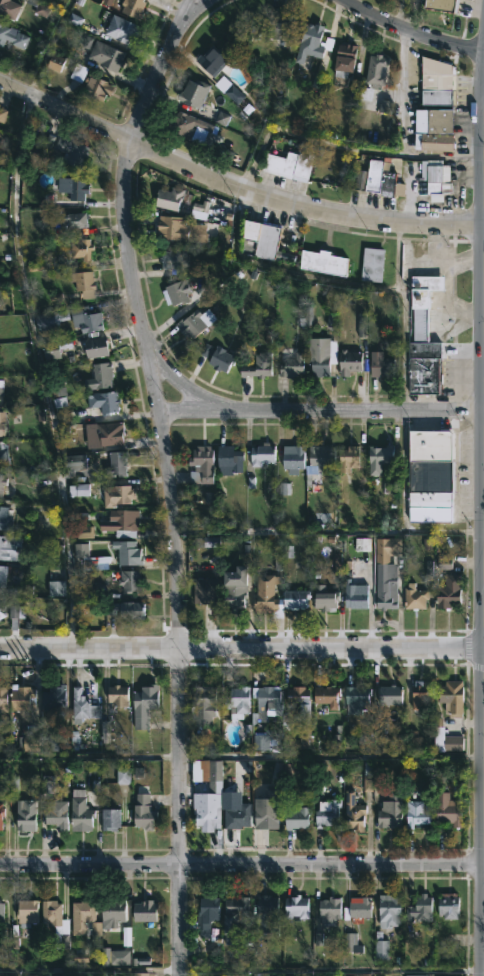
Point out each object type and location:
road: (190, 1)
building: (440, 5)
building: (133, 8)
building: (9, 9)
building: (41, 10)
building: (280, 23)
building: (84, 25)
building: (120, 30)
road: (413, 30)
building: (12, 36)
building: (312, 43)
road: (49, 47)
building: (106, 56)
building: (343, 59)
building: (212, 60)
building: (54, 66)
building: (376, 71)
building: (78, 73)
building: (436, 83)
building: (96, 88)
building: (229, 90)
road: (483, 90)
building: (192, 93)
building: (365, 94)
building: (385, 106)
building: (221, 118)
building: (433, 122)
building: (181, 123)
road: (402, 128)
road: (482, 129)
road: (307, 137)
building: (70, 151)
building: (291, 163)
building: (376, 177)
building: (435, 180)
road: (234, 183)
building: (74, 189)
building: (168, 199)
building: (70, 219)
building: (179, 230)
building: (265, 241)
building: (80, 250)
building: (173, 260)
road: (442, 261)
building: (323, 264)
building: (372, 265)
road: (283, 270)
building: (82, 284)
building: (180, 290)
building: (423, 304)
gas station: (423, 304)
road: (447, 306)
road: (405, 314)
building: (49, 320)
building: (85, 320)
building: (191, 325)
building: (361, 325)
building: (96, 348)
building: (54, 349)
building: (321, 356)
road: (471, 357)
building: (217, 358)
building: (349, 362)
building: (380, 365)
building: (292, 366)
building: (258, 367)
building: (424, 369)
road: (41, 370)
building: (99, 375)
road: (454, 382)
building: (1, 384)
building: (105, 402)
road: (322, 411)
building: (2, 422)
building: (109, 434)
building: (3, 453)
building: (261, 453)
building: (322, 456)
building: (293, 457)
building: (348, 457)
building: (379, 457)
building: (229, 459)
building: (75, 461)
building: (113, 463)
building: (201, 464)
road: (403, 471)
building: (431, 475)
road: (170, 479)
building: (1, 482)
building: (78, 490)
building: (116, 494)
road: (483, 502)
building: (5, 518)
building: (120, 523)
building: (84, 532)
road: (329, 532)
building: (208, 542)
building: (362, 544)
building: (10, 547)
building: (50, 549)
building: (127, 552)
building: (89, 557)
building: (442, 563)
building: (2, 575)
building: (385, 576)
building: (127, 580)
building: (56, 588)
building: (234, 588)
building: (206, 591)
building: (448, 591)
building: (265, 593)
building: (355, 596)
building: (414, 596)
building: (295, 598)
building: (325, 598)
building: (1, 607)
building: (126, 609)
building: (16, 611)
road: (241, 647)
road: (483, 647)
road: (483, 692)
building: (389, 694)
building: (117, 695)
building: (326, 695)
building: (420, 696)
building: (53, 697)
building: (299, 697)
building: (452, 697)
building: (3, 698)
building: (22, 698)
building: (356, 699)
building: (267, 700)
building: (237, 701)
building: (83, 705)
building: (143, 705)
building: (203, 705)
building: (105, 732)
building: (3, 736)
building: (30, 740)
building: (263, 741)
building: (305, 741)
building: (453, 743)
building: (208, 774)
building: (122, 775)
building: (367, 783)
building: (266, 809)
building: (390, 810)
building: (448, 810)
building: (206, 811)
building: (143, 812)
building: (353, 812)
building: (327, 813)
building: (417, 813)
building: (24, 814)
building: (57, 814)
building: (80, 814)
building: (0, 815)
building: (237, 816)
building: (297, 817)
building: (109, 819)
road: (242, 863)
building: (448, 905)
building: (359, 907)
building: (418, 907)
building: (296, 908)
building: (329, 910)
building: (83, 911)
building: (113, 911)
building: (145, 911)
building: (268, 911)
building: (389, 911)
building: (26, 913)
building: (1, 916)
building: (234, 916)
building: (205, 919)
building: (55, 923)
building: (351, 943)
building: (380, 947)
building: (140, 956)
building: (115, 957)
road: (330, 969)
road: (483, 973)
building: (141, 974)
building: (57, 975)
building: (415, 975)

